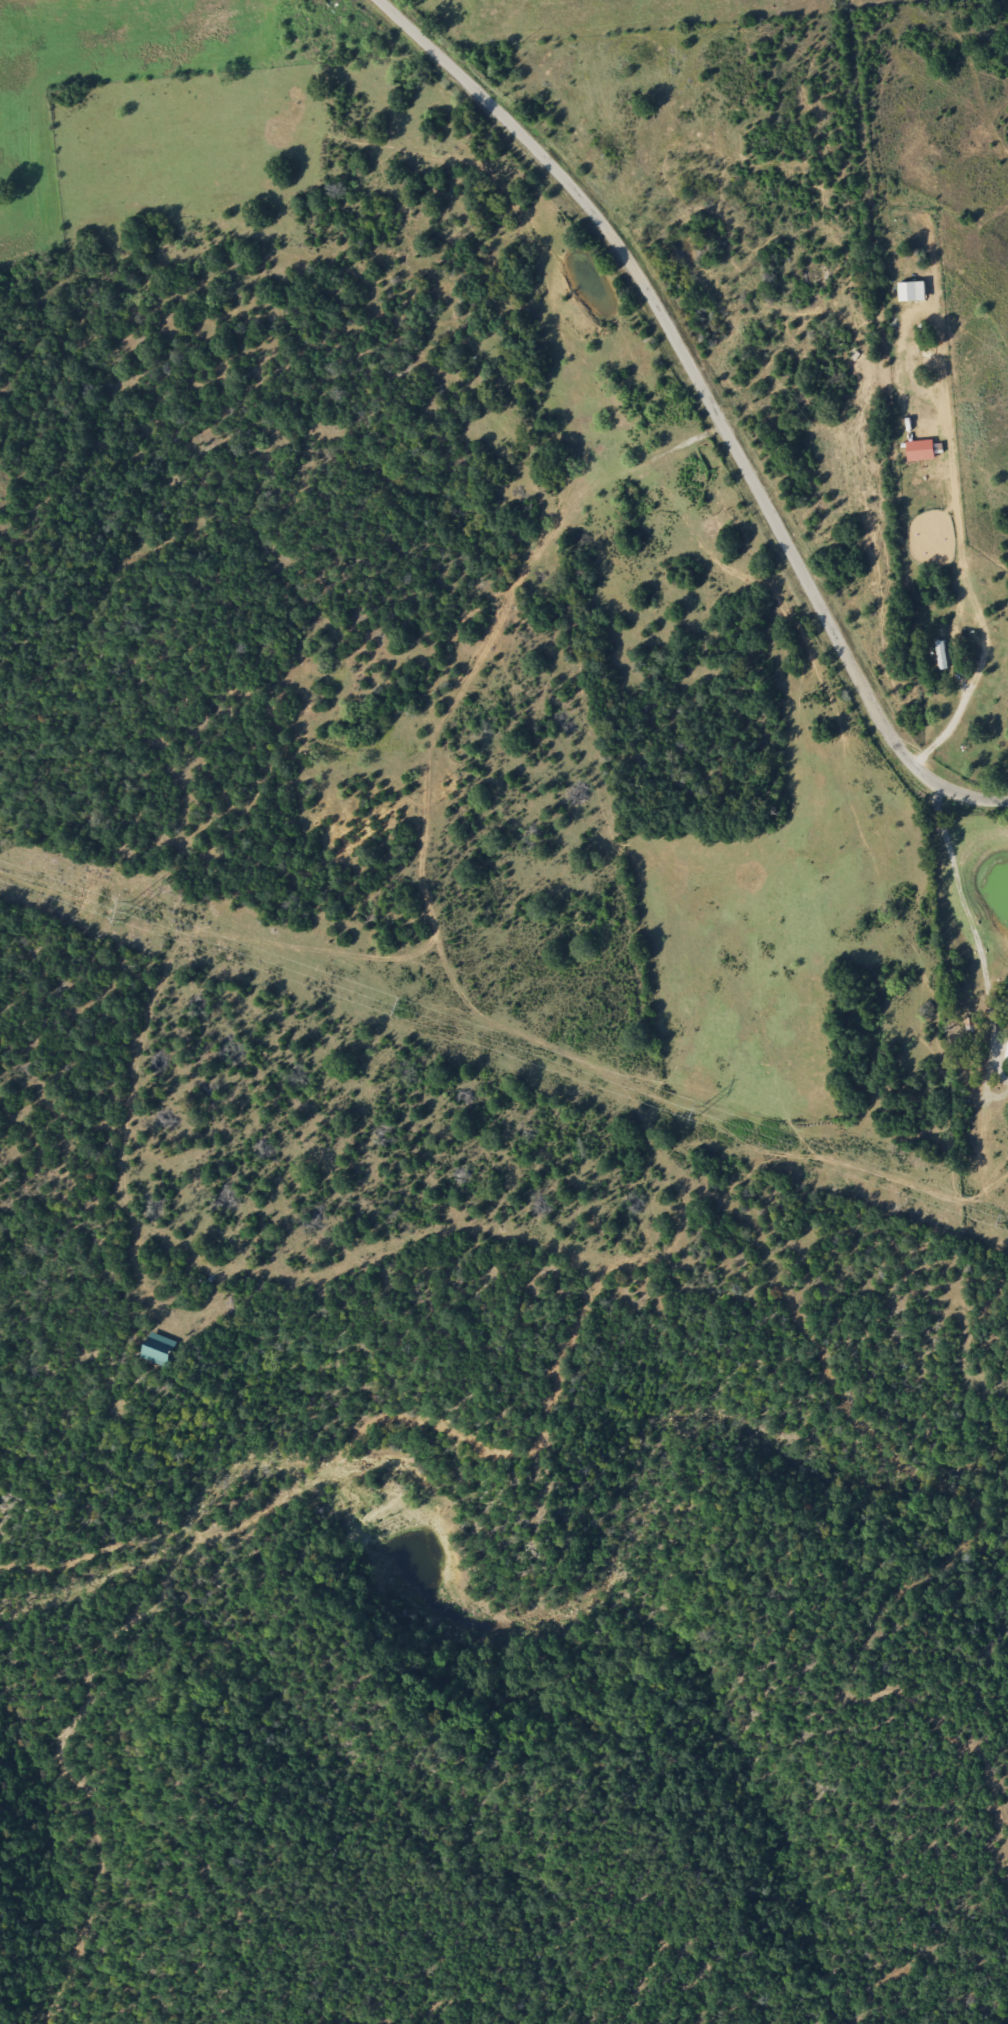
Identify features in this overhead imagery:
building: (908, 292)
road: (765, 367)
road: (707, 402)
building: (939, 655)
building: (175, 1351)

